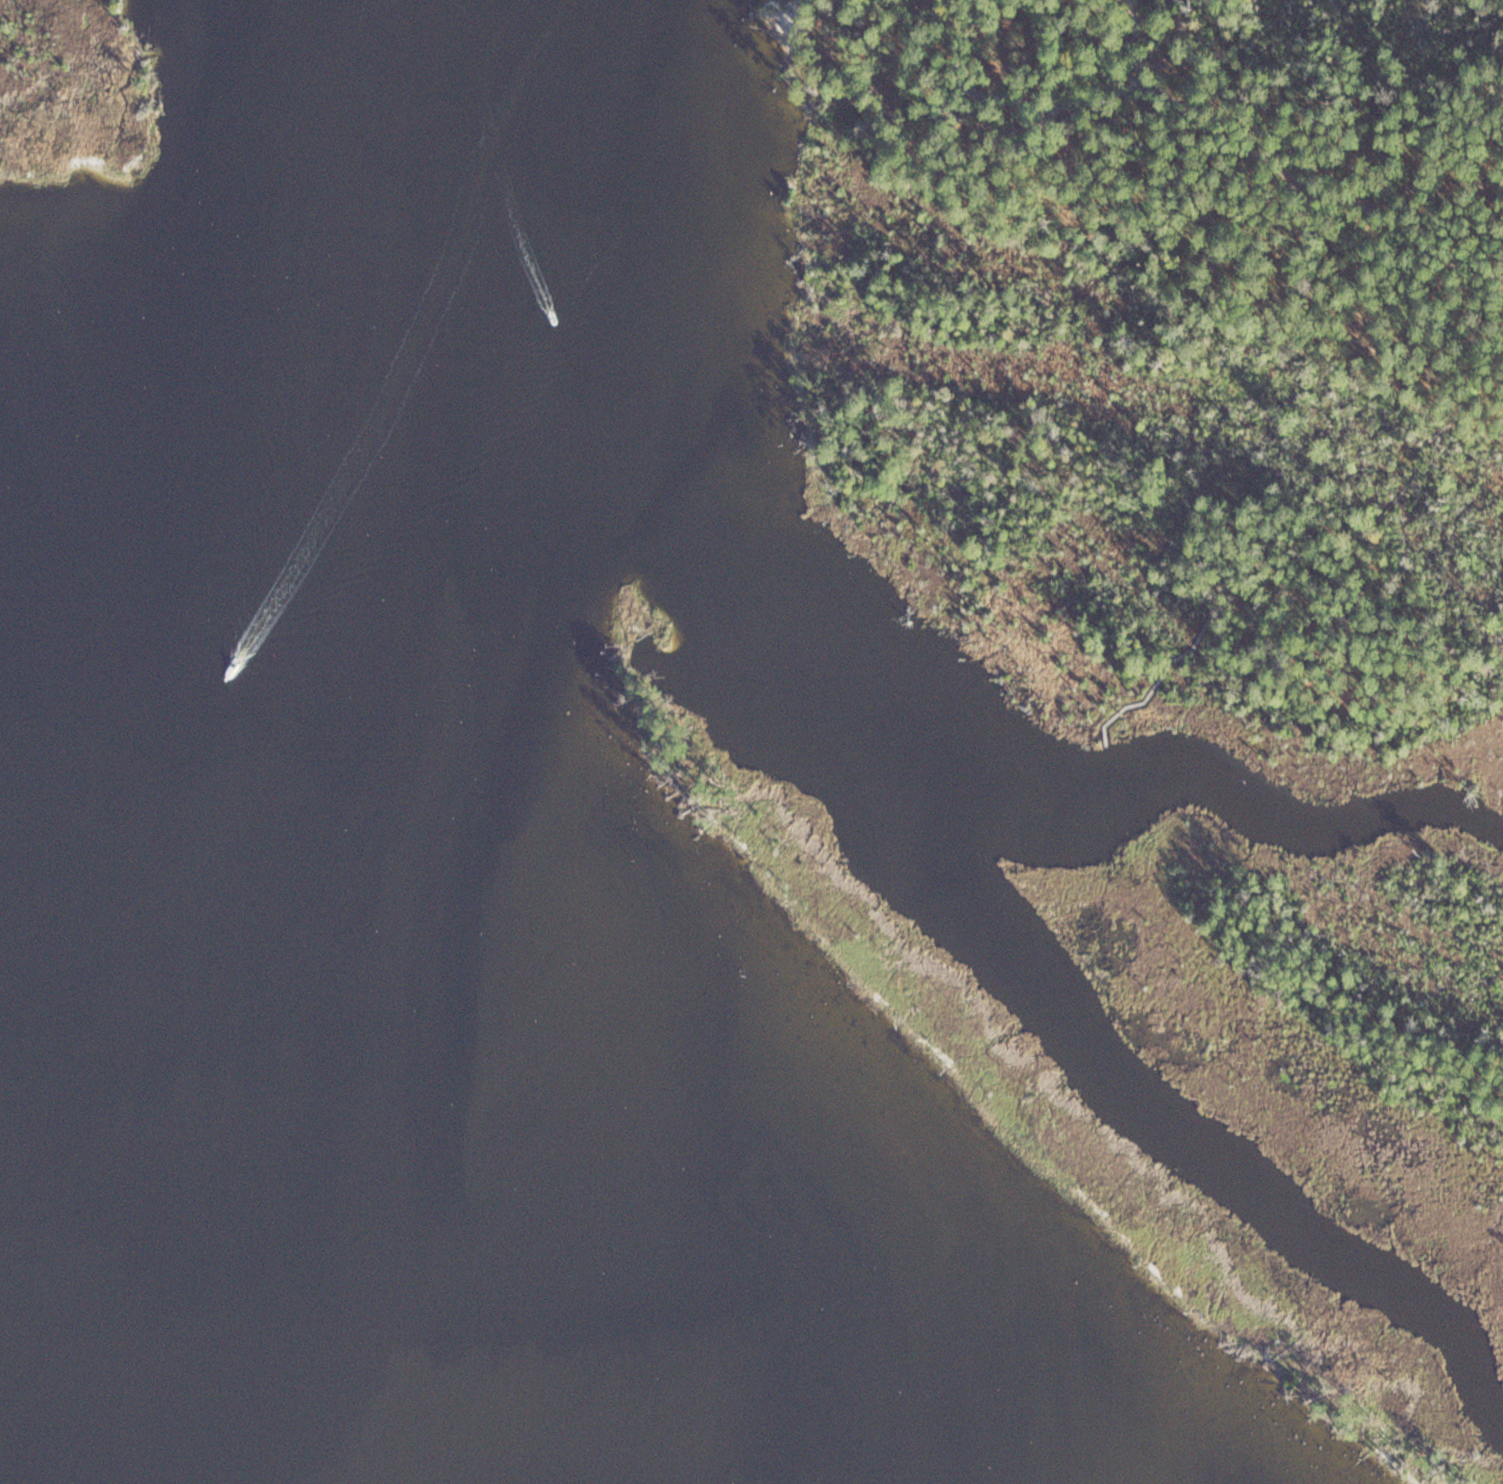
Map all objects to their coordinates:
road: (1139, 39)
road: (1011, 99)
road: (1317, 186)
road: (1112, 204)

